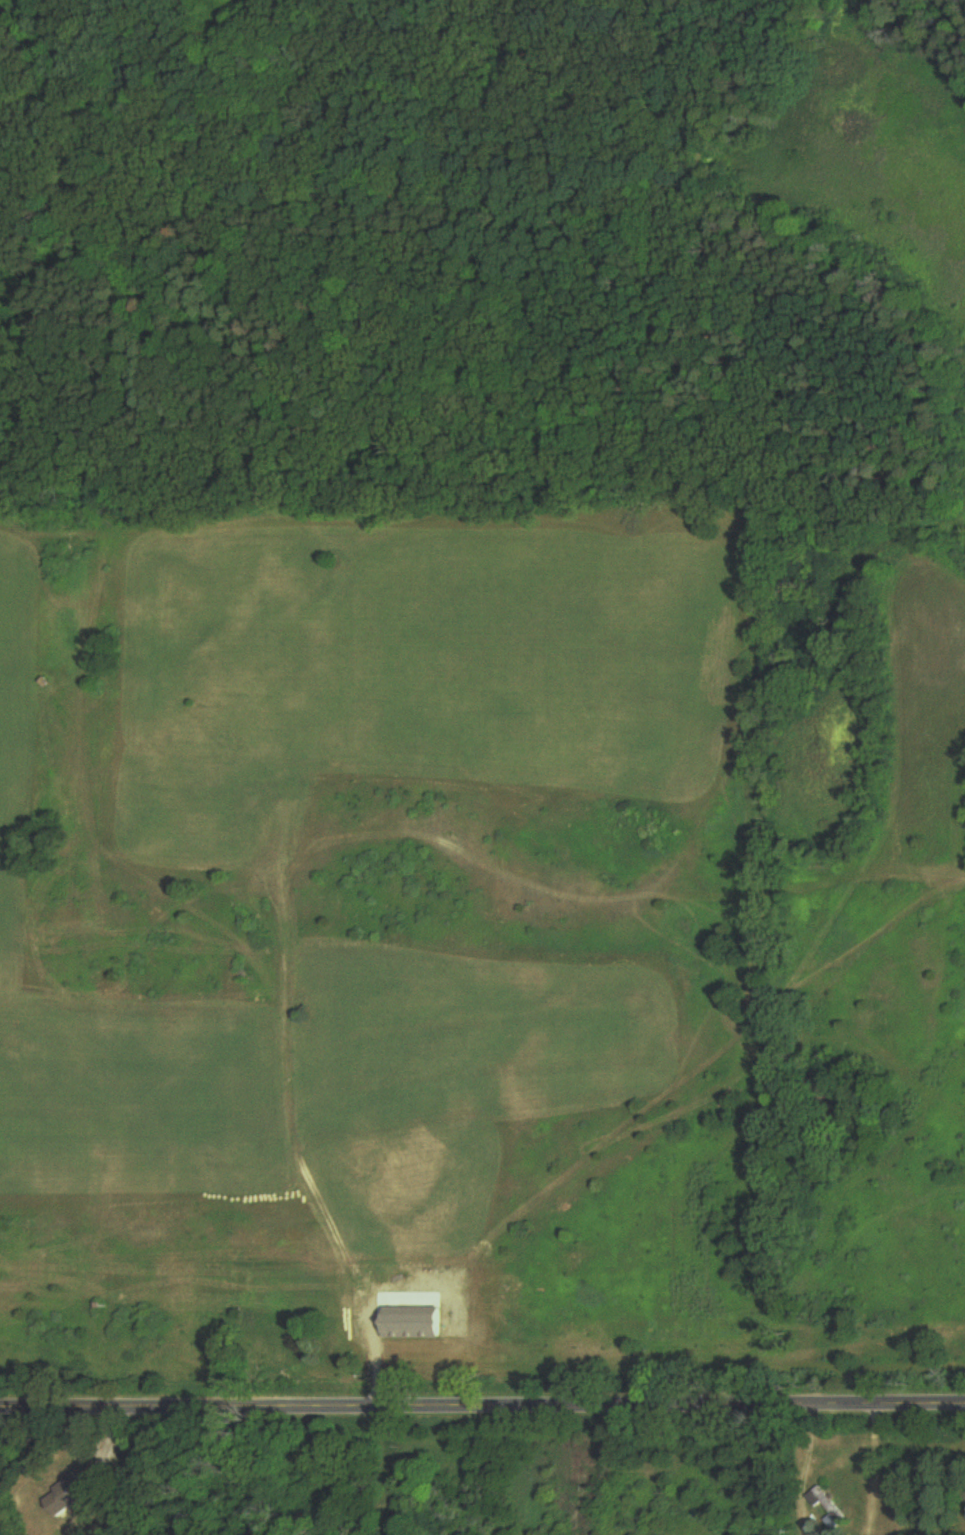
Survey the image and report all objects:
road: (370, 1343)
road: (482, 1408)
road: (801, 1455)
road: (870, 1471)
building: (71, 1497)
building: (827, 1507)

